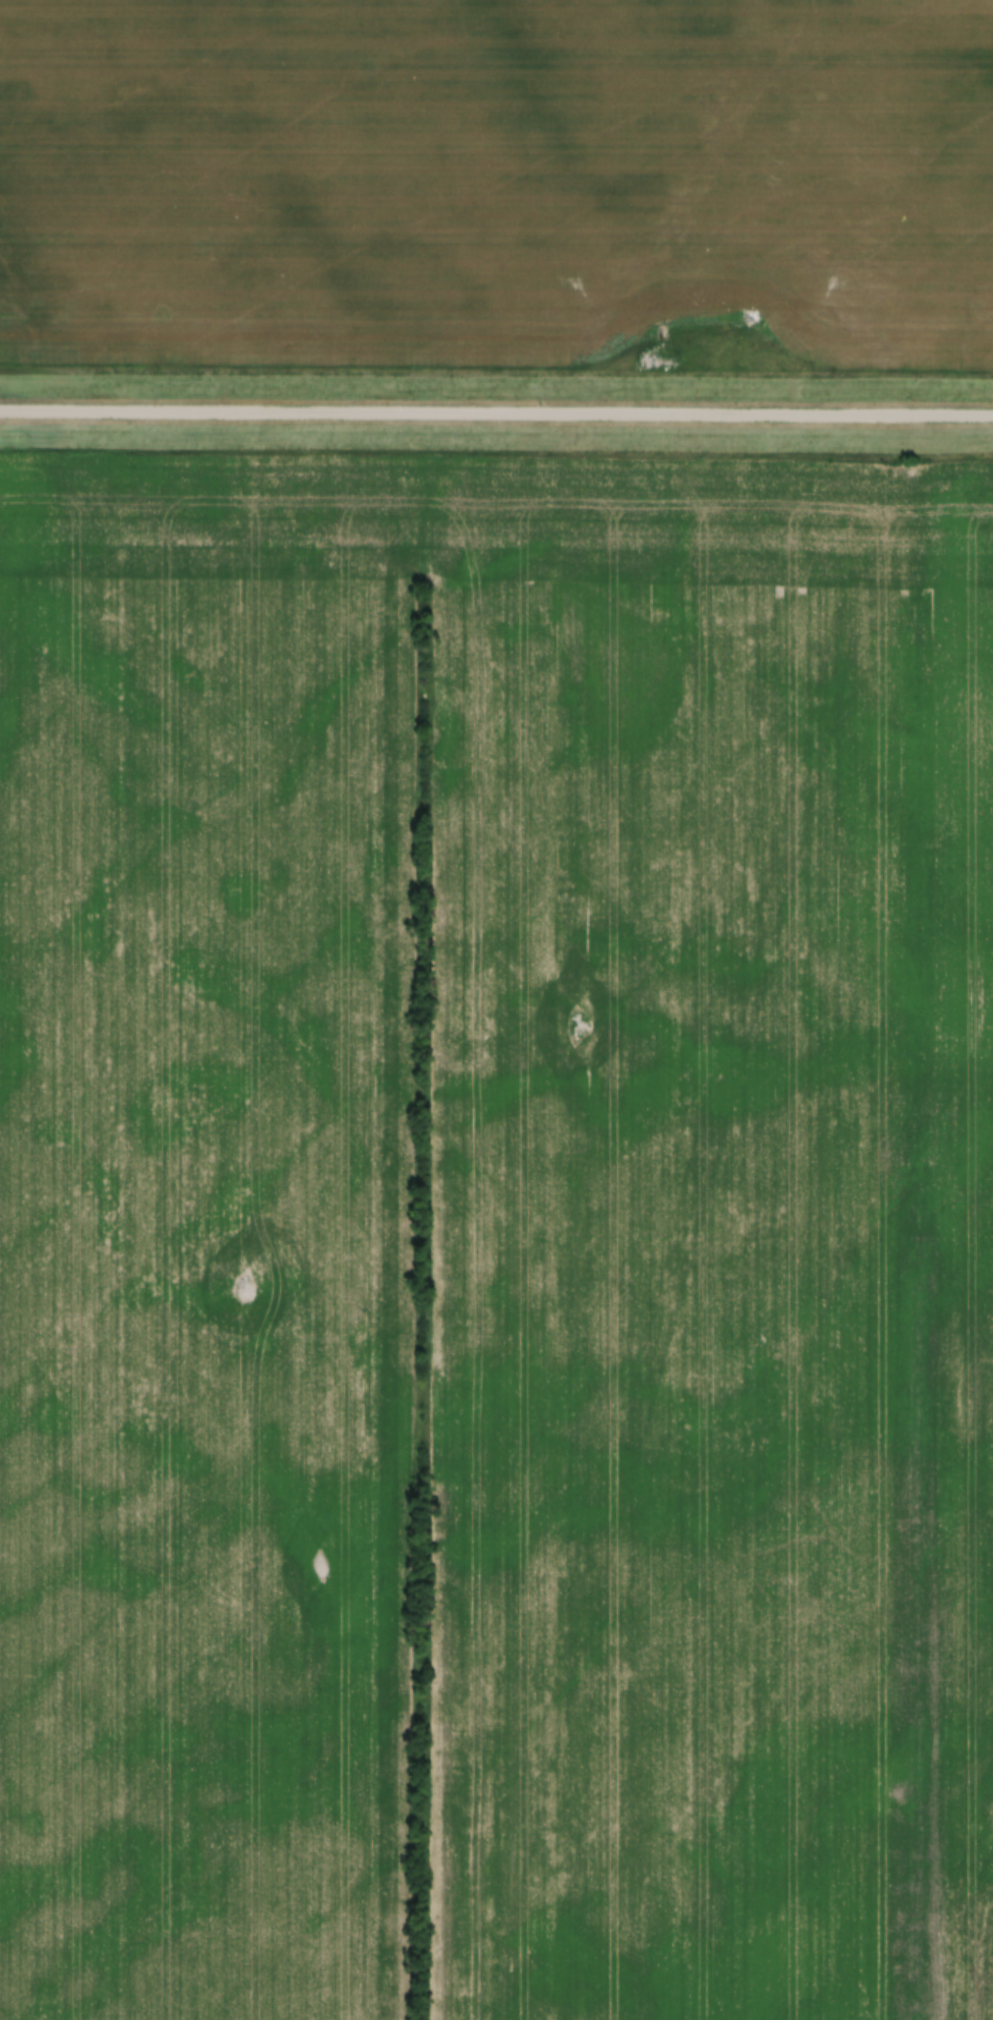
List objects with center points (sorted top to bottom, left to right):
road: (496, 411)

